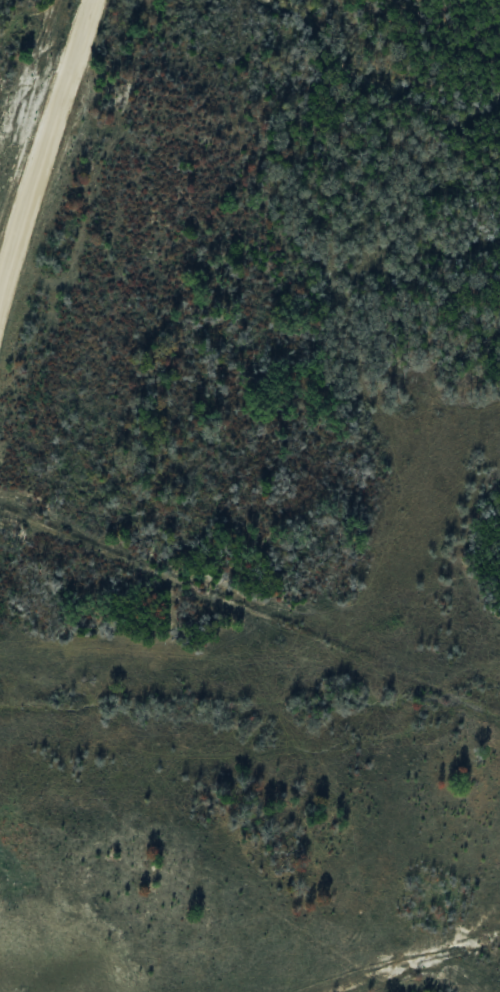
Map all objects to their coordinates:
road: (48, 149)

